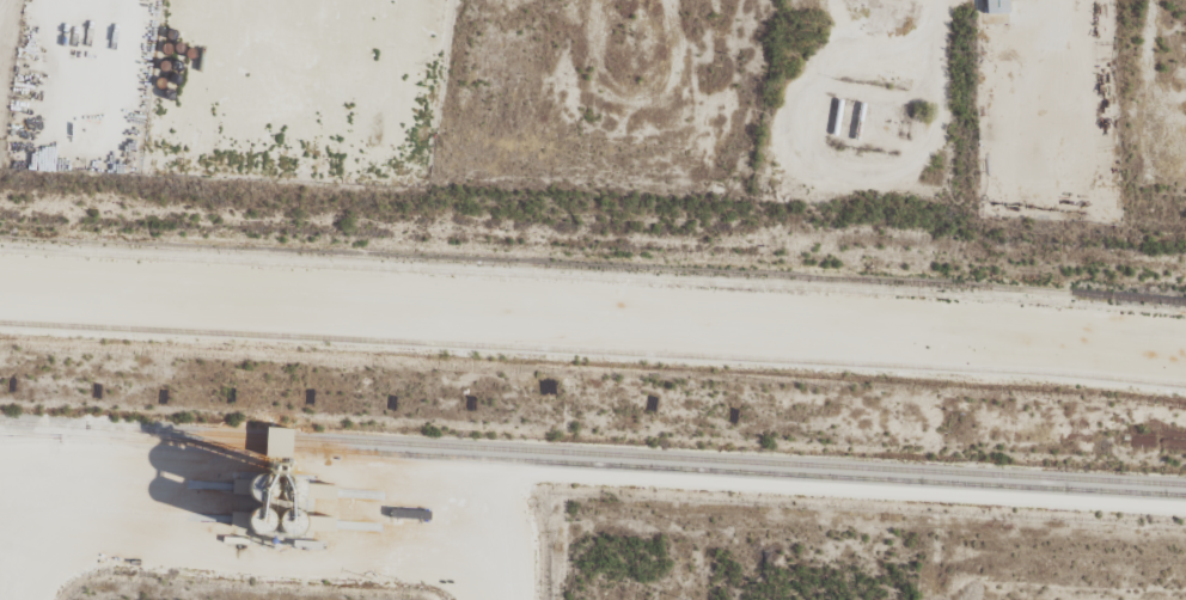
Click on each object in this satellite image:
railway: (395, 257)
railway: (988, 288)
railway: (1149, 305)
road: (593, 350)
road: (560, 475)

